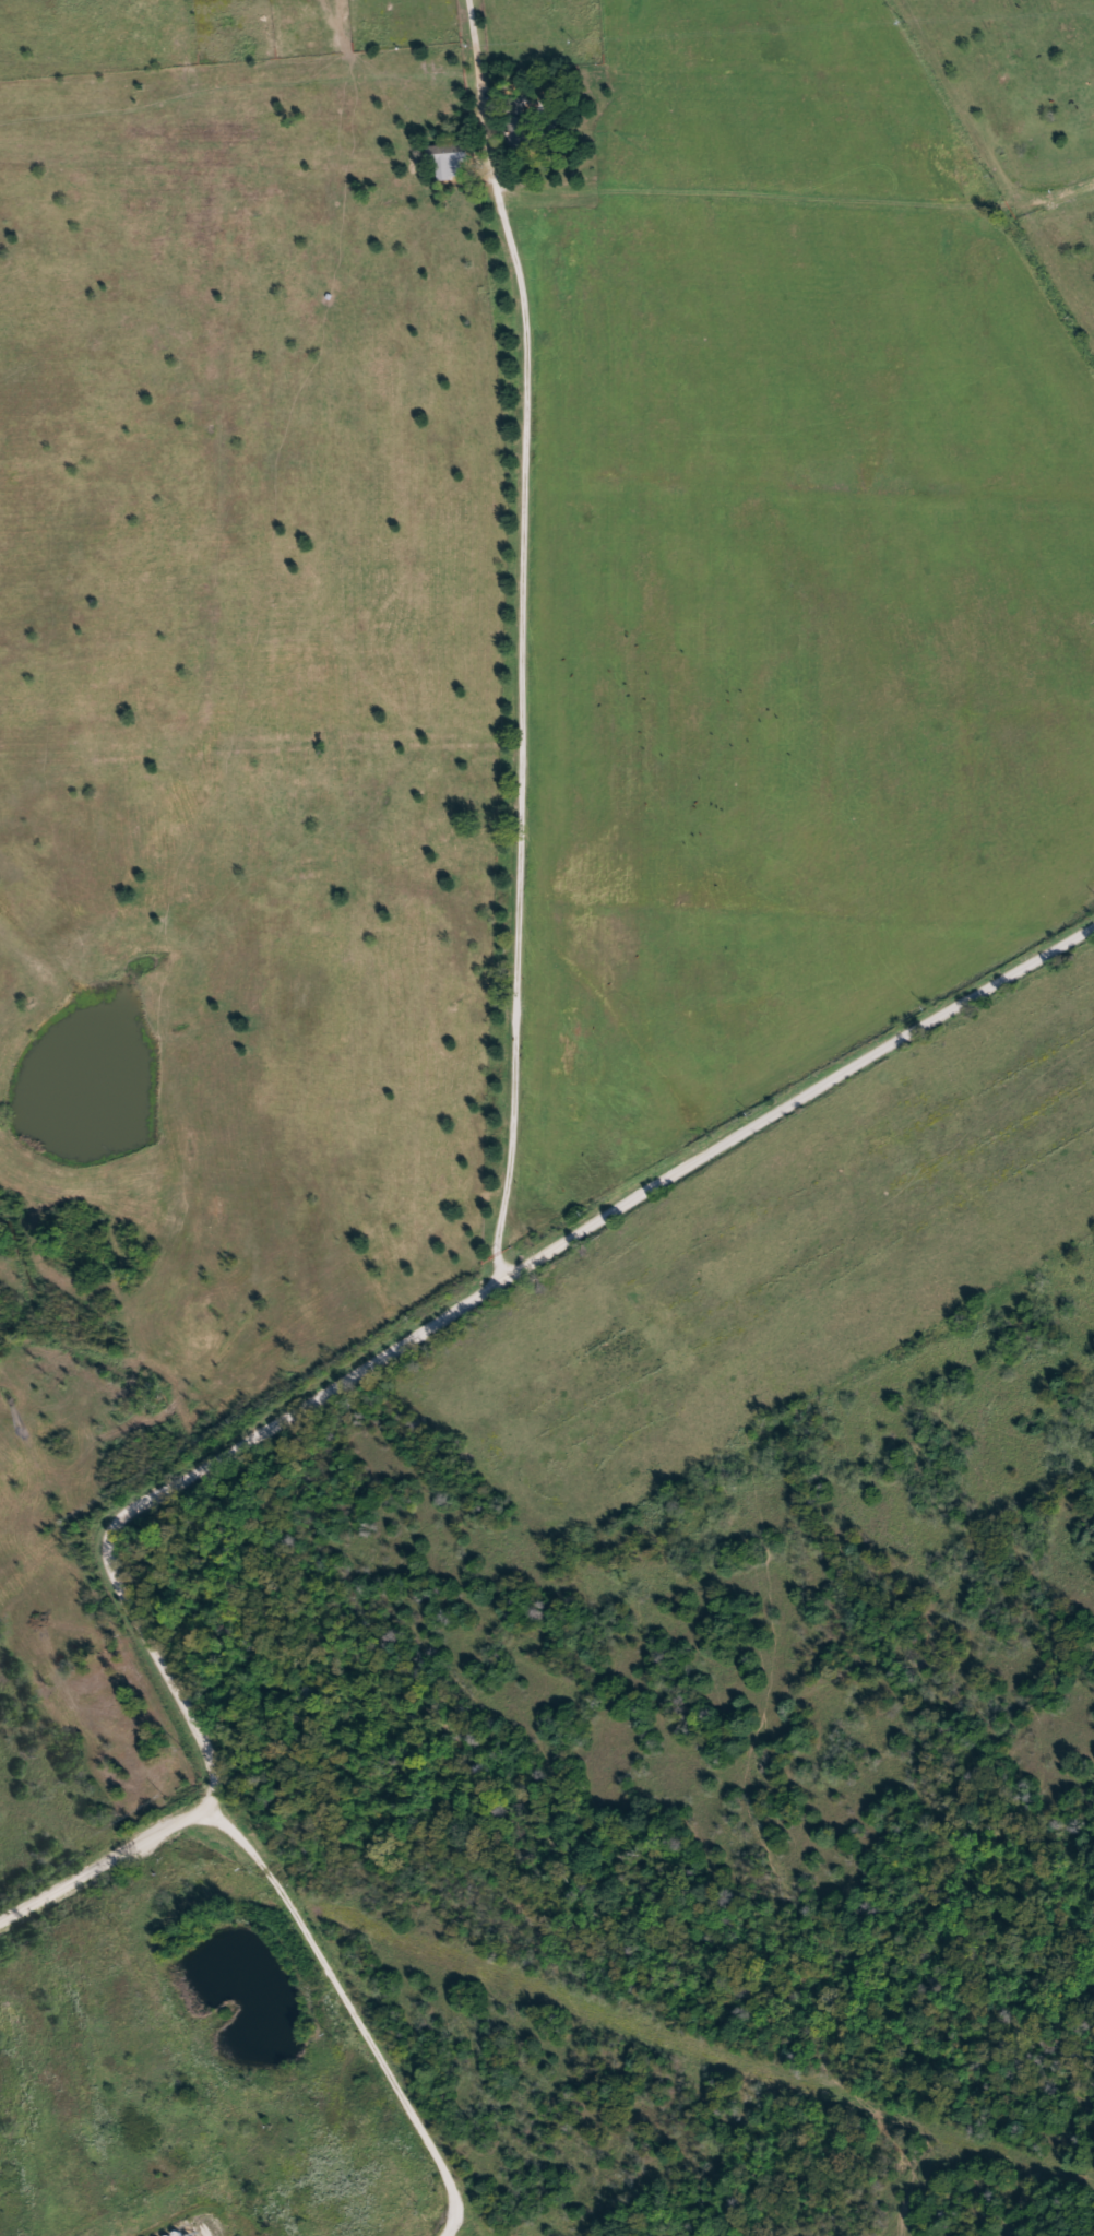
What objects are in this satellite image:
building: (526, 128)
building: (450, 154)
building: (456, 165)
road: (798, 198)
road: (523, 636)
road: (366, 1364)
road: (96, 2054)

